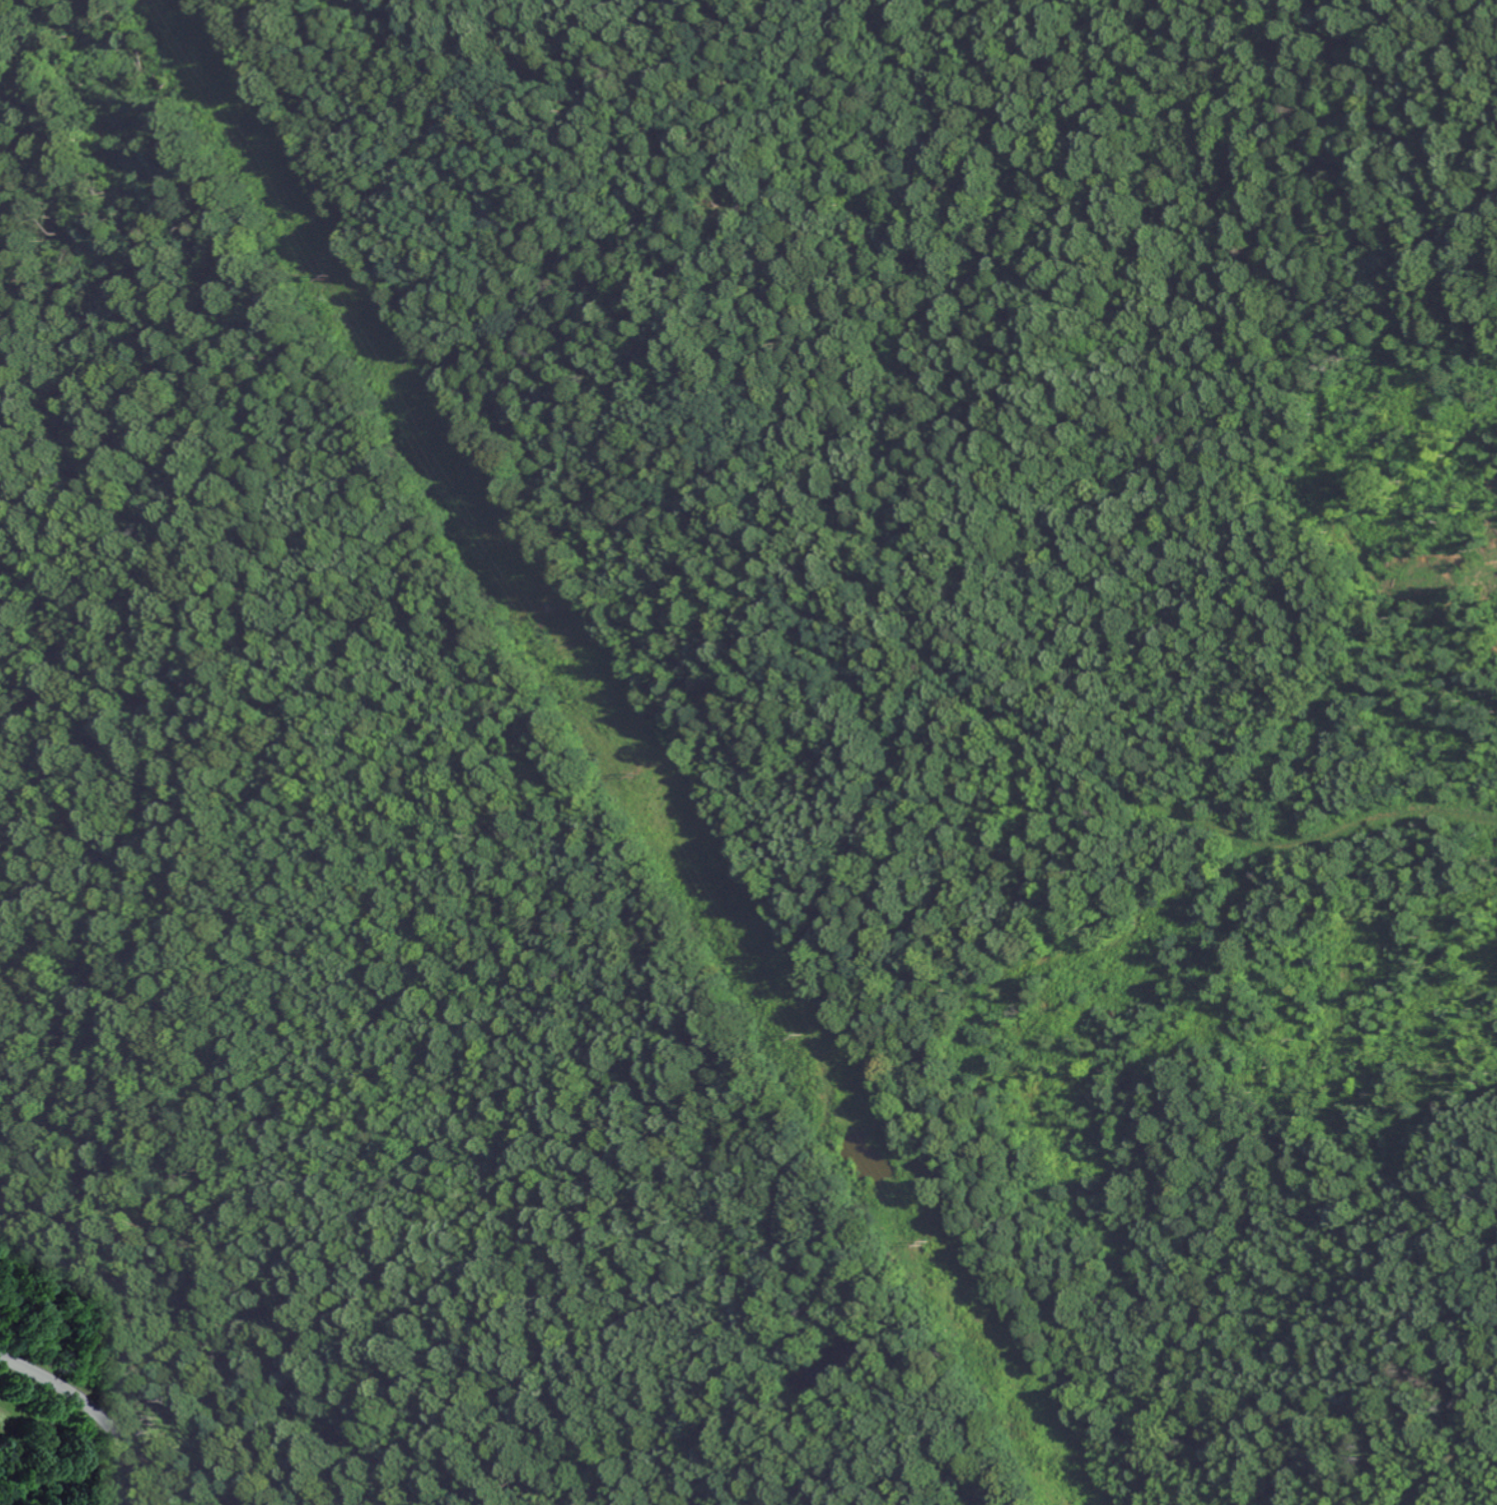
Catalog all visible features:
road: (91, 1414)

